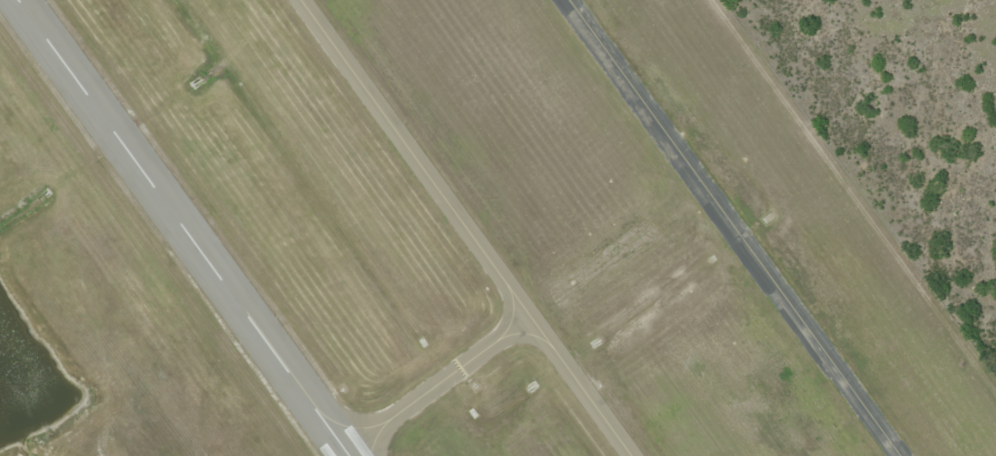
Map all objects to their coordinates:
road: (881, 78)
airport runway: (182, 227)
airport taxiway: (464, 227)
airport taxiway: (733, 228)
airport: (443, 241)
airport taxiway: (435, 381)

